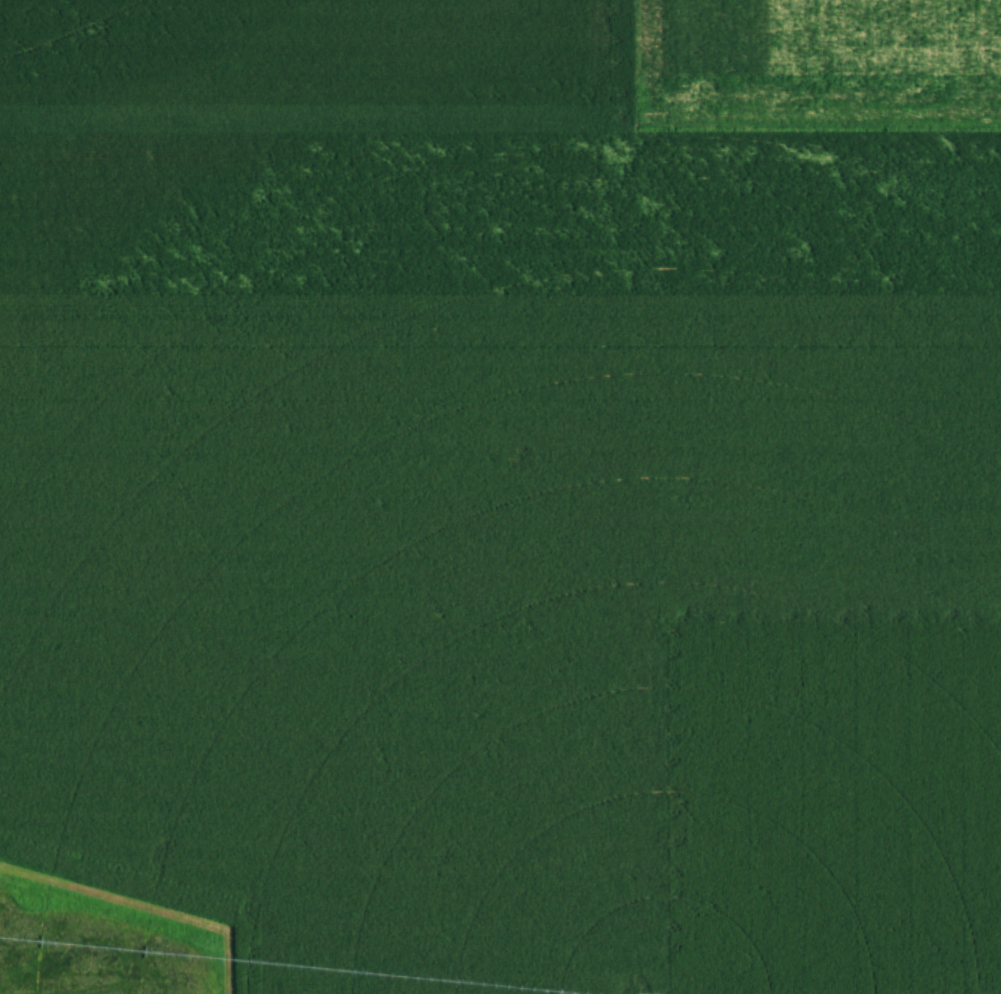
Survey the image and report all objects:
crop: (818, 792)

